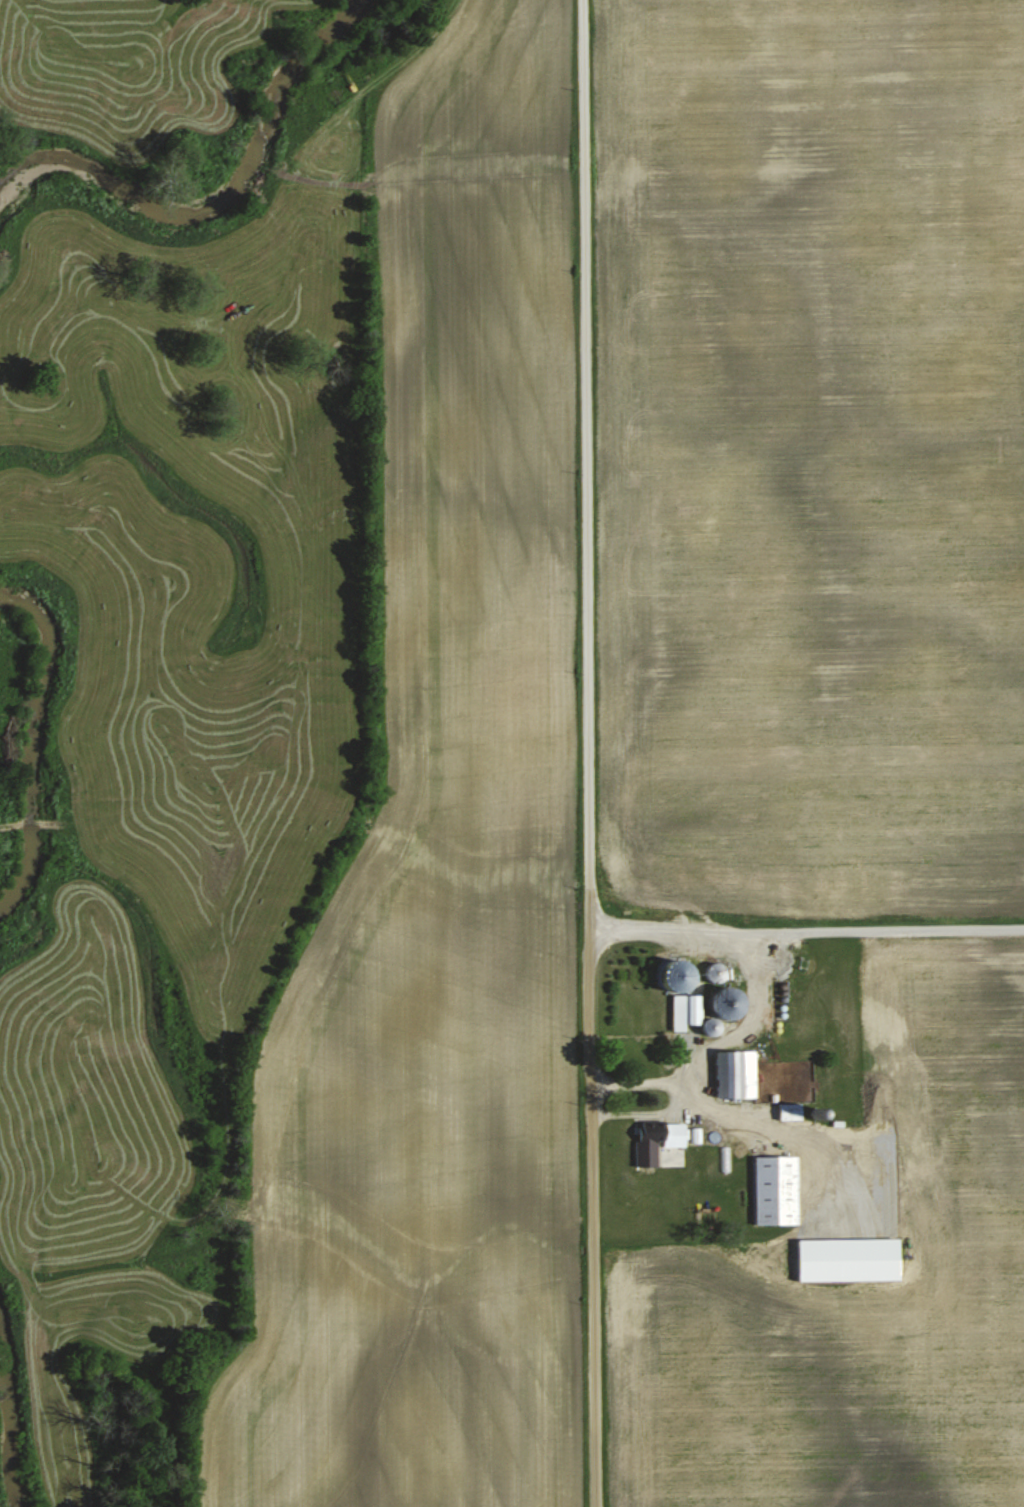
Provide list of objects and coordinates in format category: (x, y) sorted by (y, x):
road: (586, 753)
road: (805, 928)
building: (718, 969)
building: (731, 1003)
building: (685, 1010)
building: (714, 1025)
road: (705, 1056)
building: (738, 1072)
road: (643, 1080)
building: (792, 1110)
building: (663, 1129)
building: (778, 1189)

